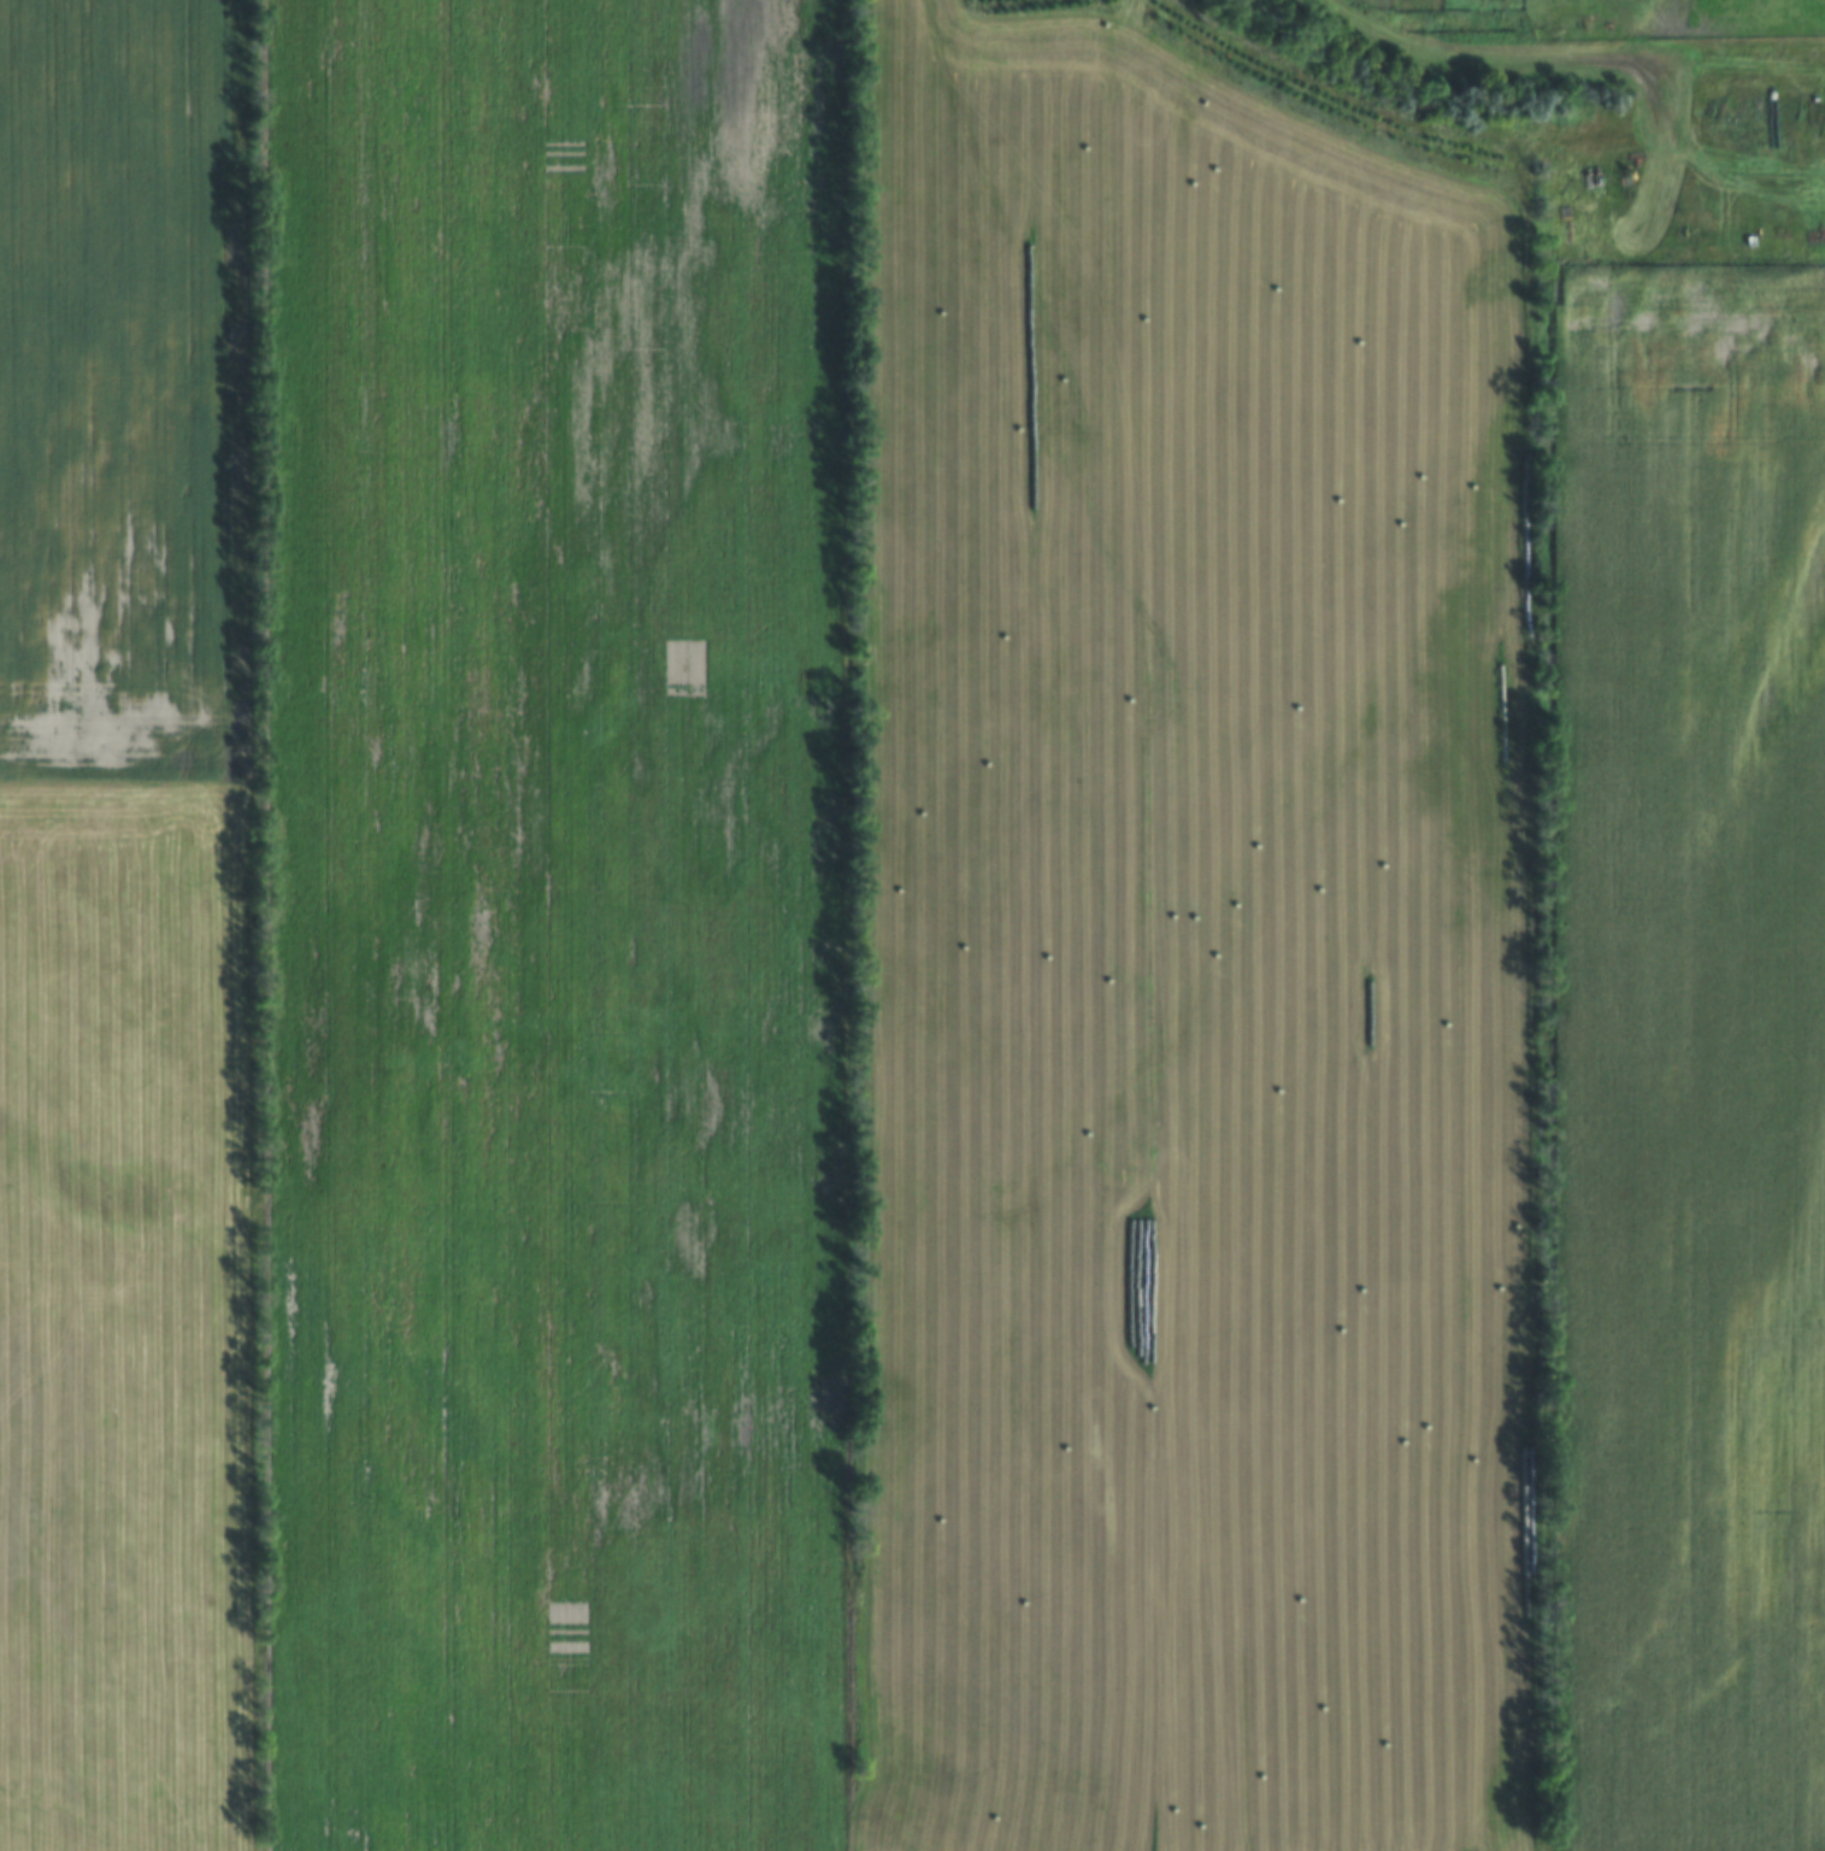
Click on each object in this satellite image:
road: (1523, 58)

